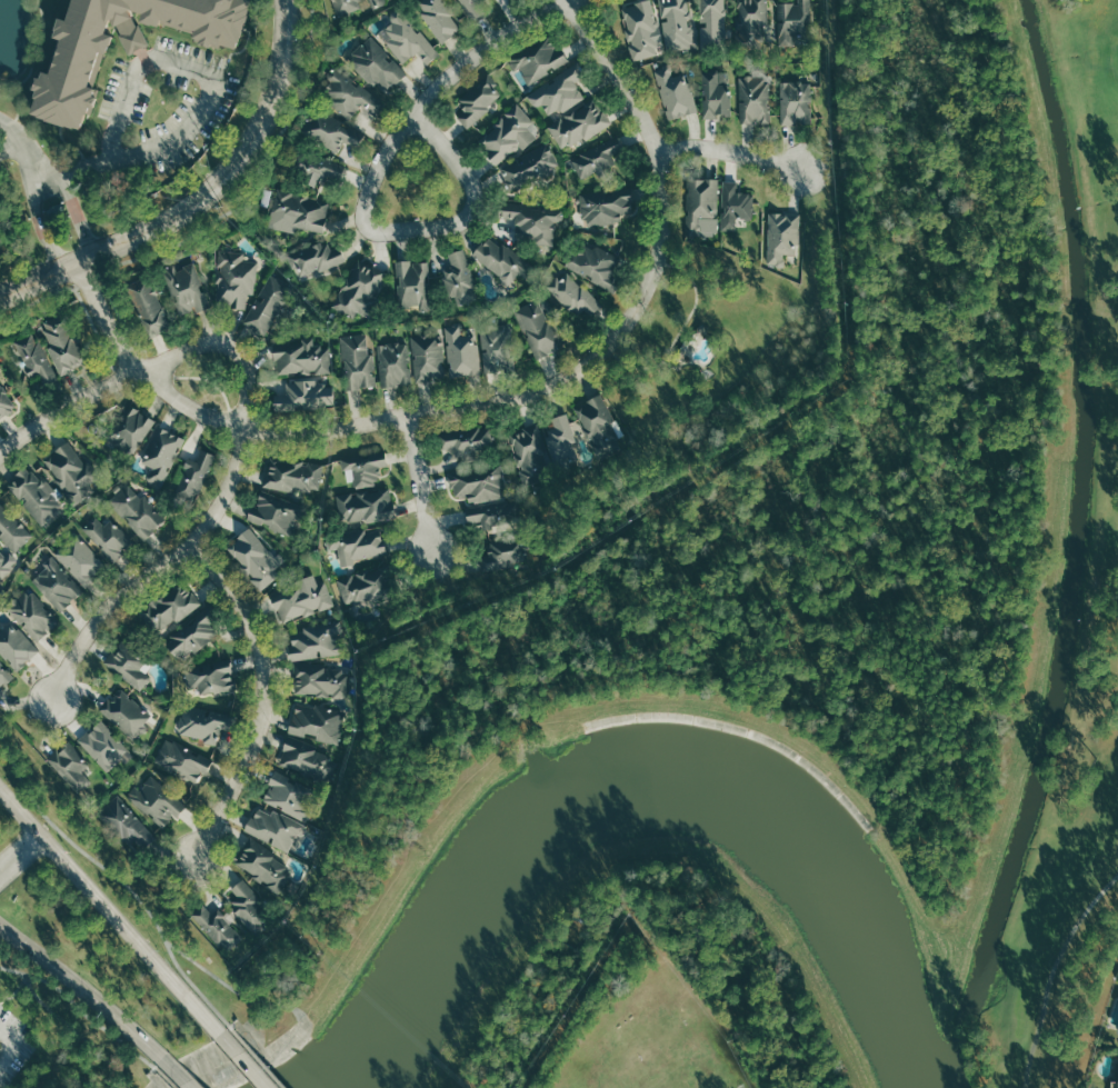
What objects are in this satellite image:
building: (373, 1)
building: (343, 6)
building: (472, 7)
building: (440, 17)
building: (791, 19)
building: (750, 22)
building: (676, 24)
building: (711, 24)
building: (639, 28)
building: (406, 36)
road: (489, 47)
building: (537, 57)
building: (76, 61)
building: (377, 63)
road: (615, 74)
road: (210, 88)
building: (559, 90)
building: (675, 92)
building: (347, 93)
building: (713, 94)
building: (478, 98)
building: (752, 99)
building: (795, 102)
building: (578, 123)
building: (328, 130)
building: (507, 133)
road: (20, 139)
road: (11, 148)
road: (731, 153)
building: (597, 158)
building: (315, 166)
building: (528, 167)
road: (370, 183)
road: (203, 202)
building: (733, 203)
road: (74, 206)
building: (605, 206)
building: (699, 206)
building: (299, 213)
road: (217, 214)
building: (530, 220)
road: (40, 221)
building: (780, 236)
building: (315, 257)
building: (500, 258)
building: (591, 263)
building: (230, 277)
building: (459, 277)
building: (412, 285)
building: (184, 289)
building: (359, 289)
building: (571, 296)
building: (264, 303)
building: (147, 307)
road: (124, 323)
building: (538, 327)
road: (678, 331)
road: (98, 338)
building: (60, 343)
building: (496, 343)
road: (229, 348)
building: (462, 349)
building: (428, 356)
building: (300, 357)
building: (30, 358)
building: (357, 361)
building: (393, 363)
building: (305, 395)
building: (3, 402)
road: (66, 409)
road: (410, 412)
building: (597, 423)
building: (130, 429)
building: (465, 441)
building: (559, 441)
building: (161, 452)
building: (529, 452)
building: (362, 468)
building: (72, 471)
building: (291, 472)
building: (193, 476)
building: (478, 482)
road: (418, 485)
building: (34, 495)
building: (366, 506)
building: (137, 511)
building: (276, 512)
building: (492, 513)
building: (12, 529)
building: (109, 537)
building: (357, 542)
building: (503, 551)
building: (253, 556)
building: (81, 559)
building: (4, 565)
road: (158, 570)
building: (57, 581)
building: (369, 585)
building: (300, 600)
building: (168, 607)
building: (33, 613)
park: (1069, 617)
building: (192, 632)
building: (317, 640)
building: (17, 645)
building: (127, 663)
building: (4, 676)
building: (210, 677)
building: (318, 679)
road: (261, 693)
building: (126, 711)
building: (203, 721)
building: (316, 721)
building: (103, 745)
building: (306, 759)
building: (183, 760)
building: (72, 766)
building: (290, 795)
building: (157, 800)
building: (126, 822)
building: (272, 826)
road: (19, 851)
building: (260, 865)
road: (117, 876)
building: (248, 907)
road: (111, 912)
building: (217, 927)
road: (1051, 971)
road: (230, 987)
road: (84, 991)
road: (81, 1008)
road: (74, 1029)
parking lot: (13, 1044)
road: (16, 1044)
road: (257, 1057)
road: (266, 1058)
road: (248, 1061)
road: (180, 1075)
park: (620, 1075)
road: (166, 1078)
building: (1114, 1084)

